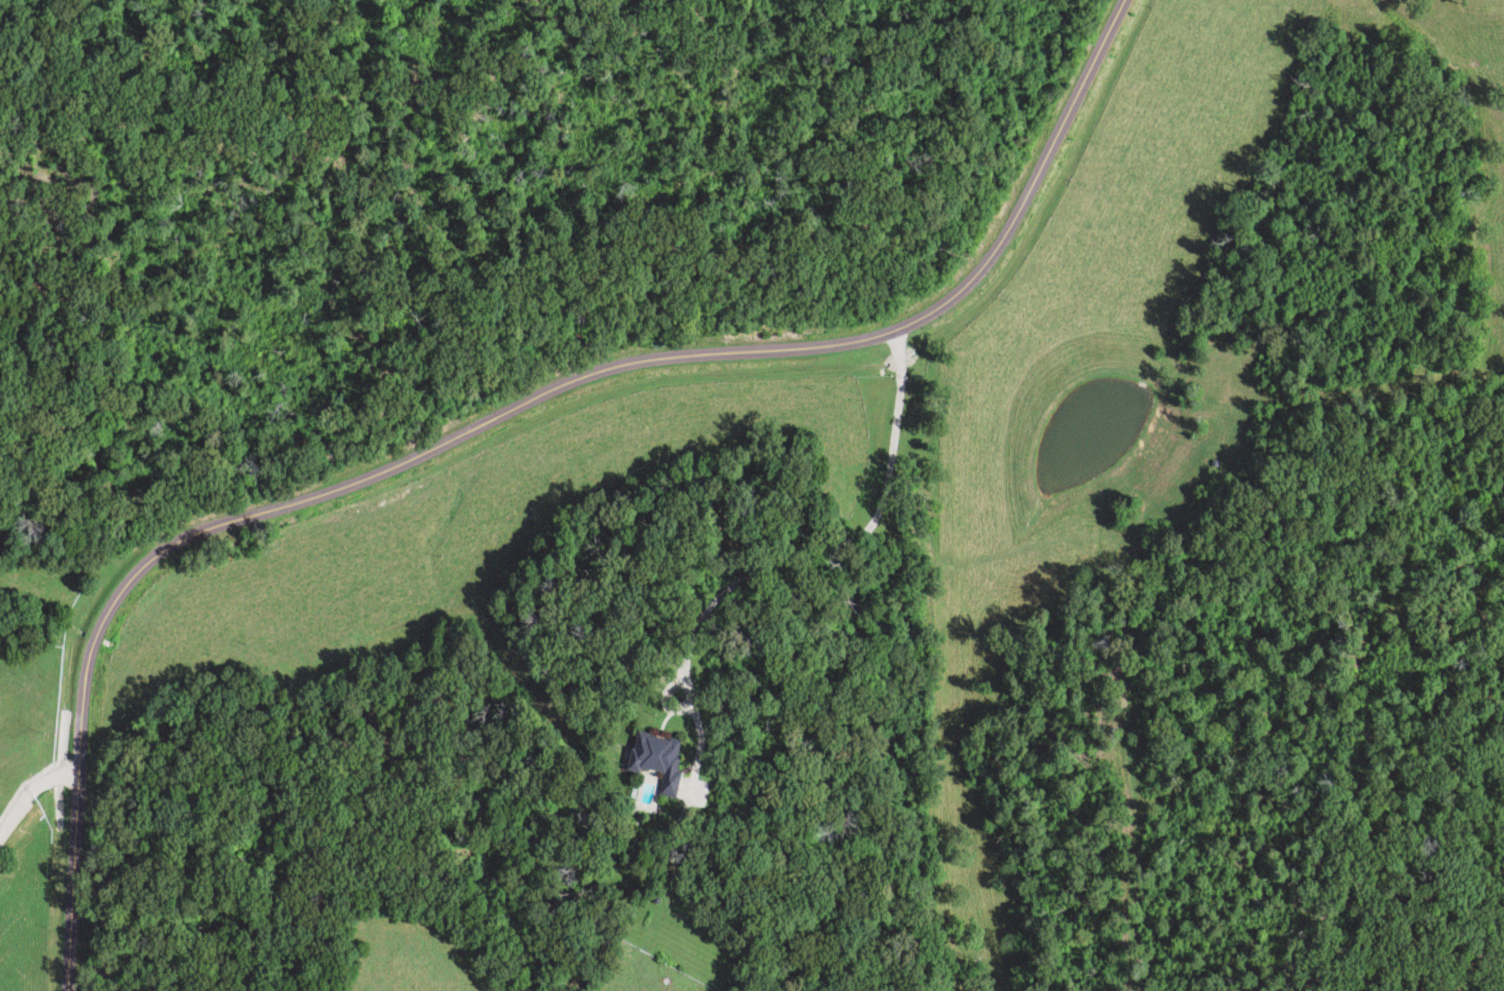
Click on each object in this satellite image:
road: (494, 419)
road: (847, 537)
building: (654, 760)
road: (32, 792)

